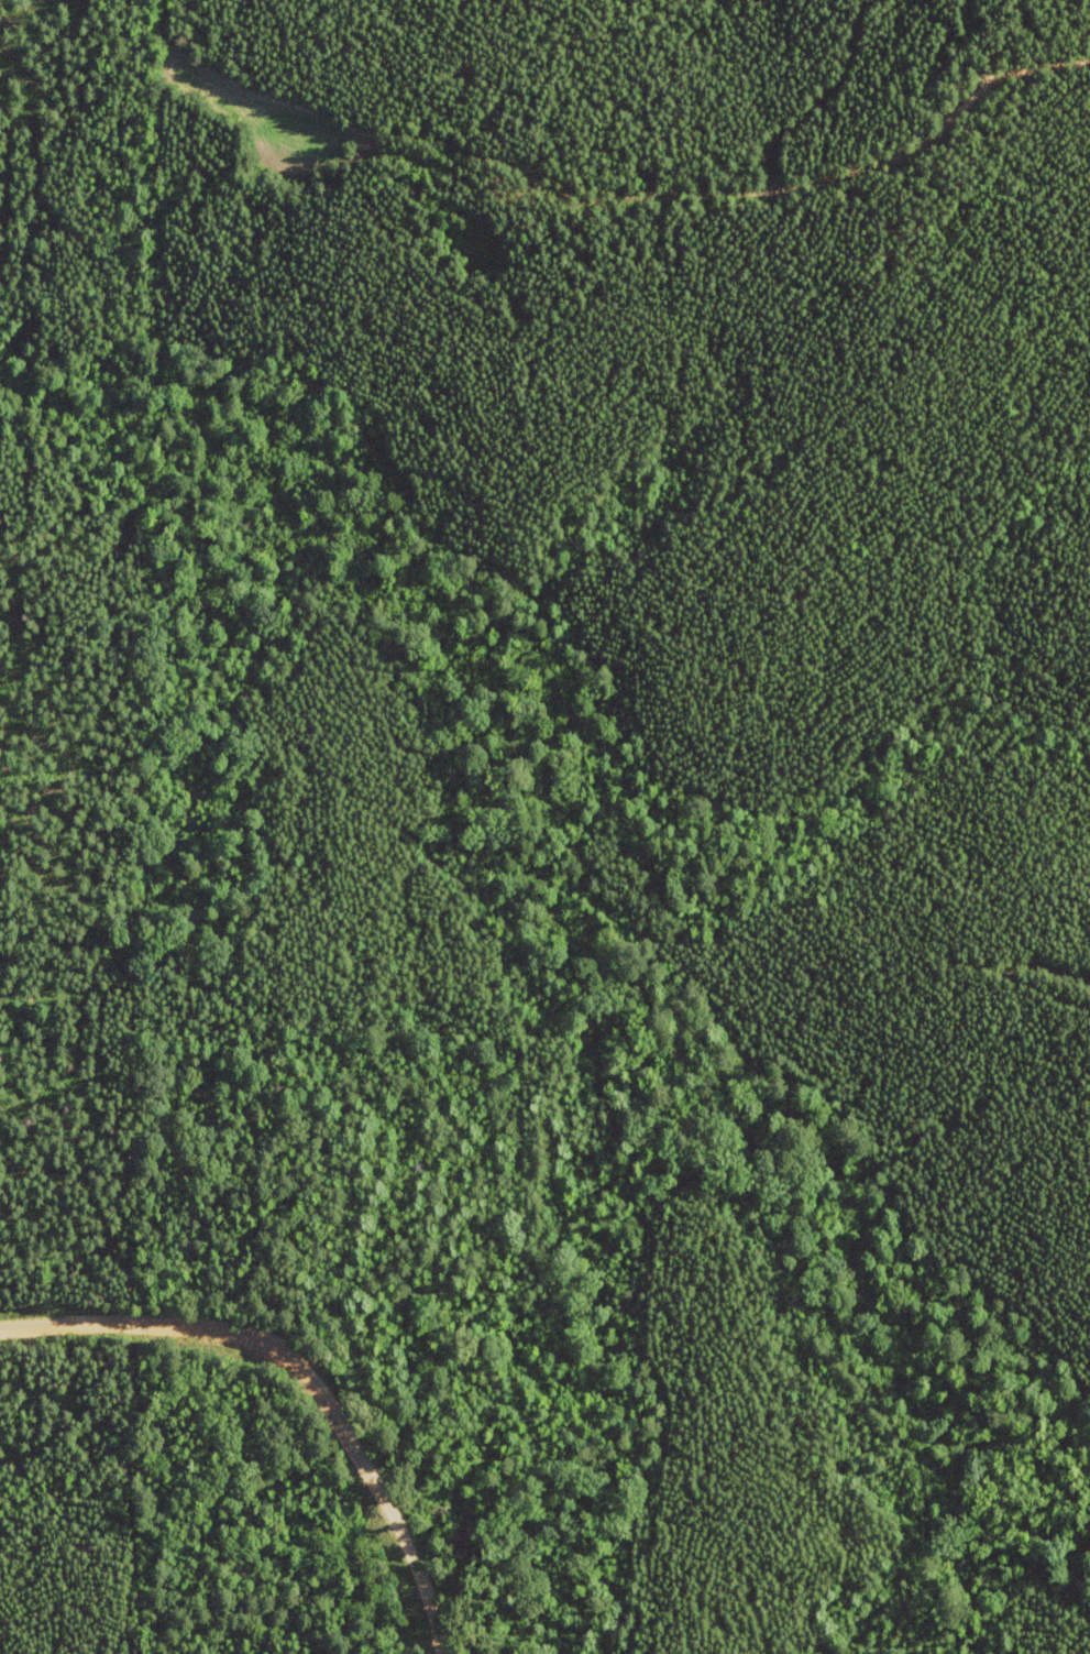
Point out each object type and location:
road: (316, 1373)

